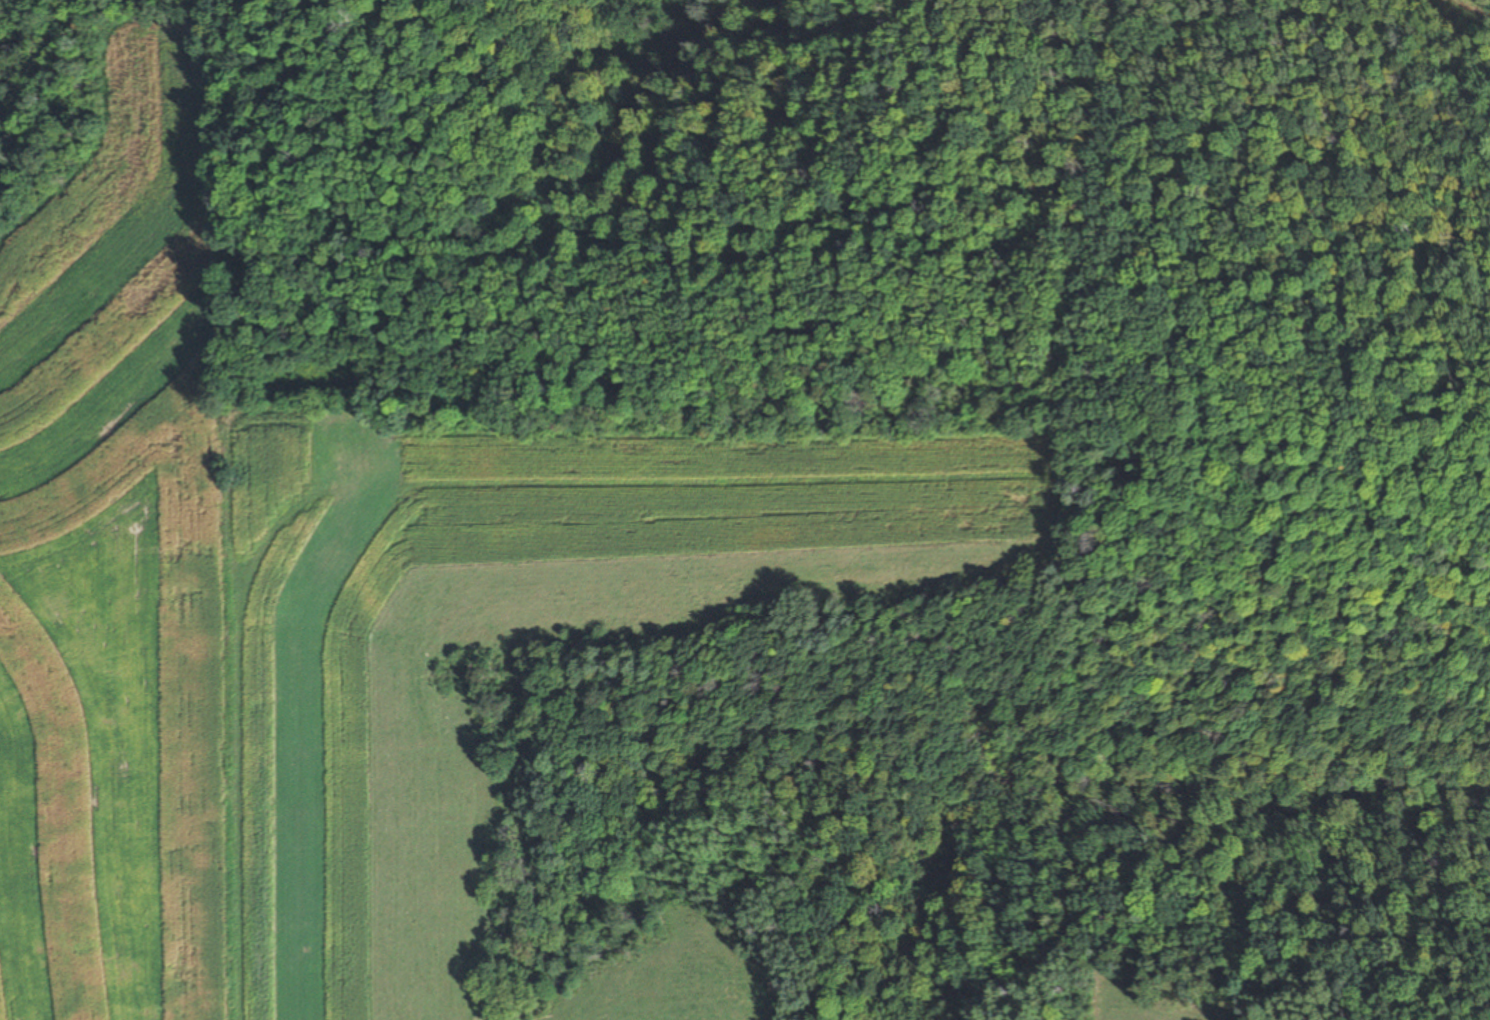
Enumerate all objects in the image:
road: (113, 15)
road: (969, 28)

